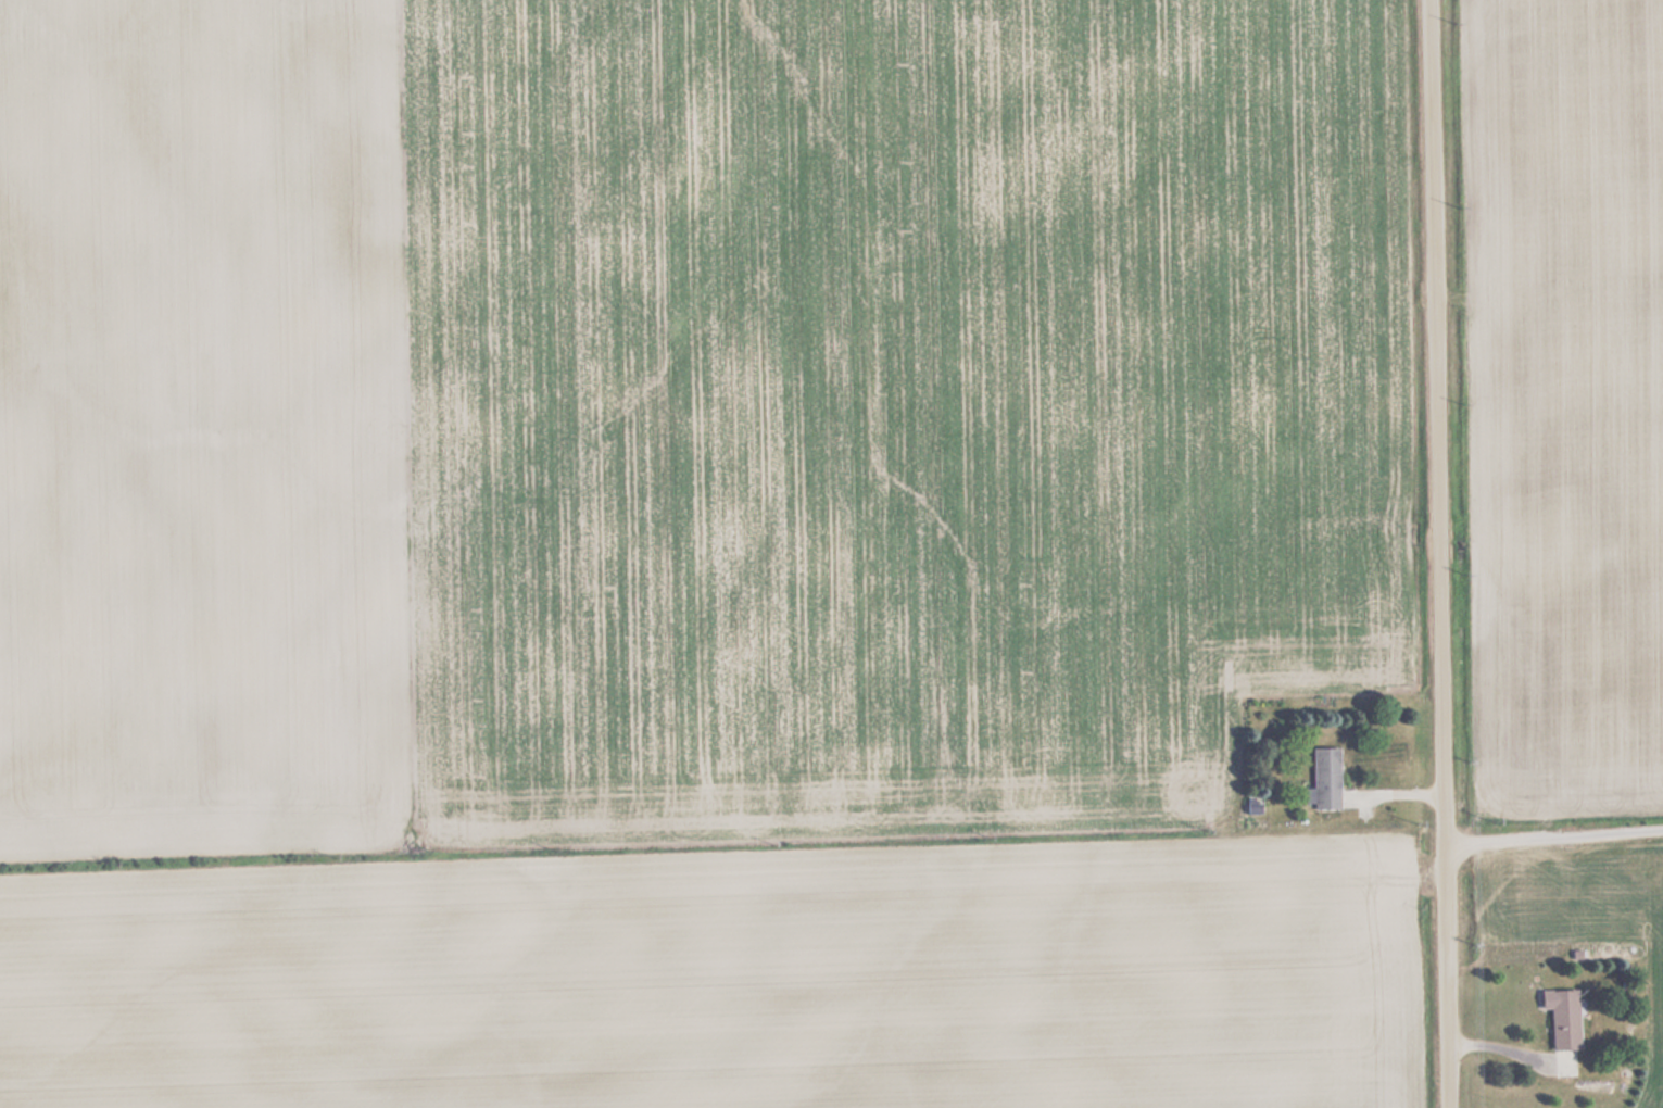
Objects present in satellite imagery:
road: (1435, 554)
building: (1319, 777)
road: (1551, 840)
building: (1558, 1017)

